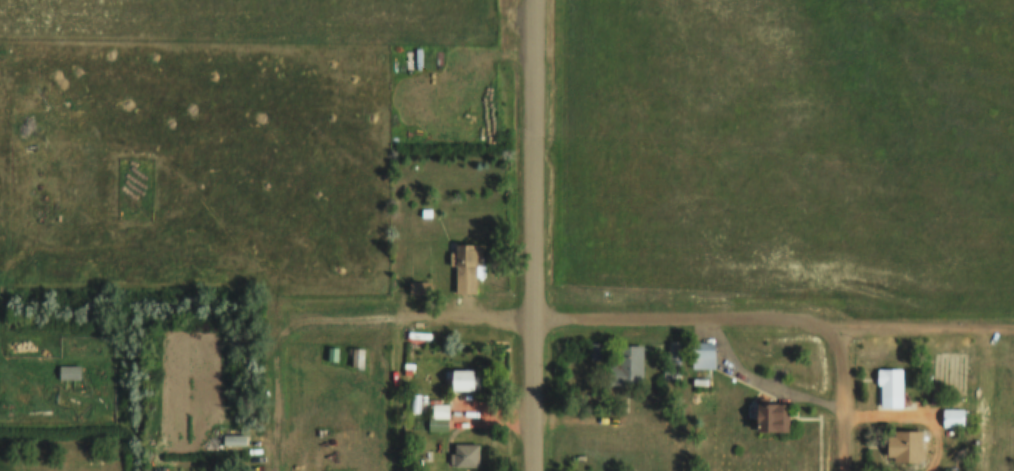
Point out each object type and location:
road: (531, 162)
building: (466, 270)
road: (329, 325)
road: (686, 325)
road: (928, 325)
building: (703, 355)
building: (672, 360)
building: (626, 364)
building: (69, 372)
building: (462, 379)
building: (889, 388)
road: (395, 398)
road: (530, 398)
road: (842, 398)
building: (438, 417)
building: (772, 417)
building: (954, 418)
building: (233, 440)
building: (904, 447)
building: (465, 455)

